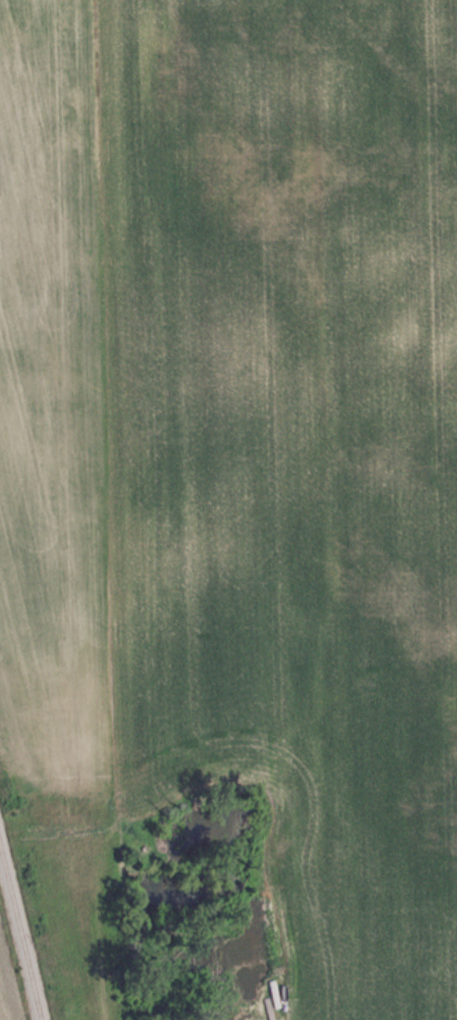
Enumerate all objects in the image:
railway: (21, 930)

